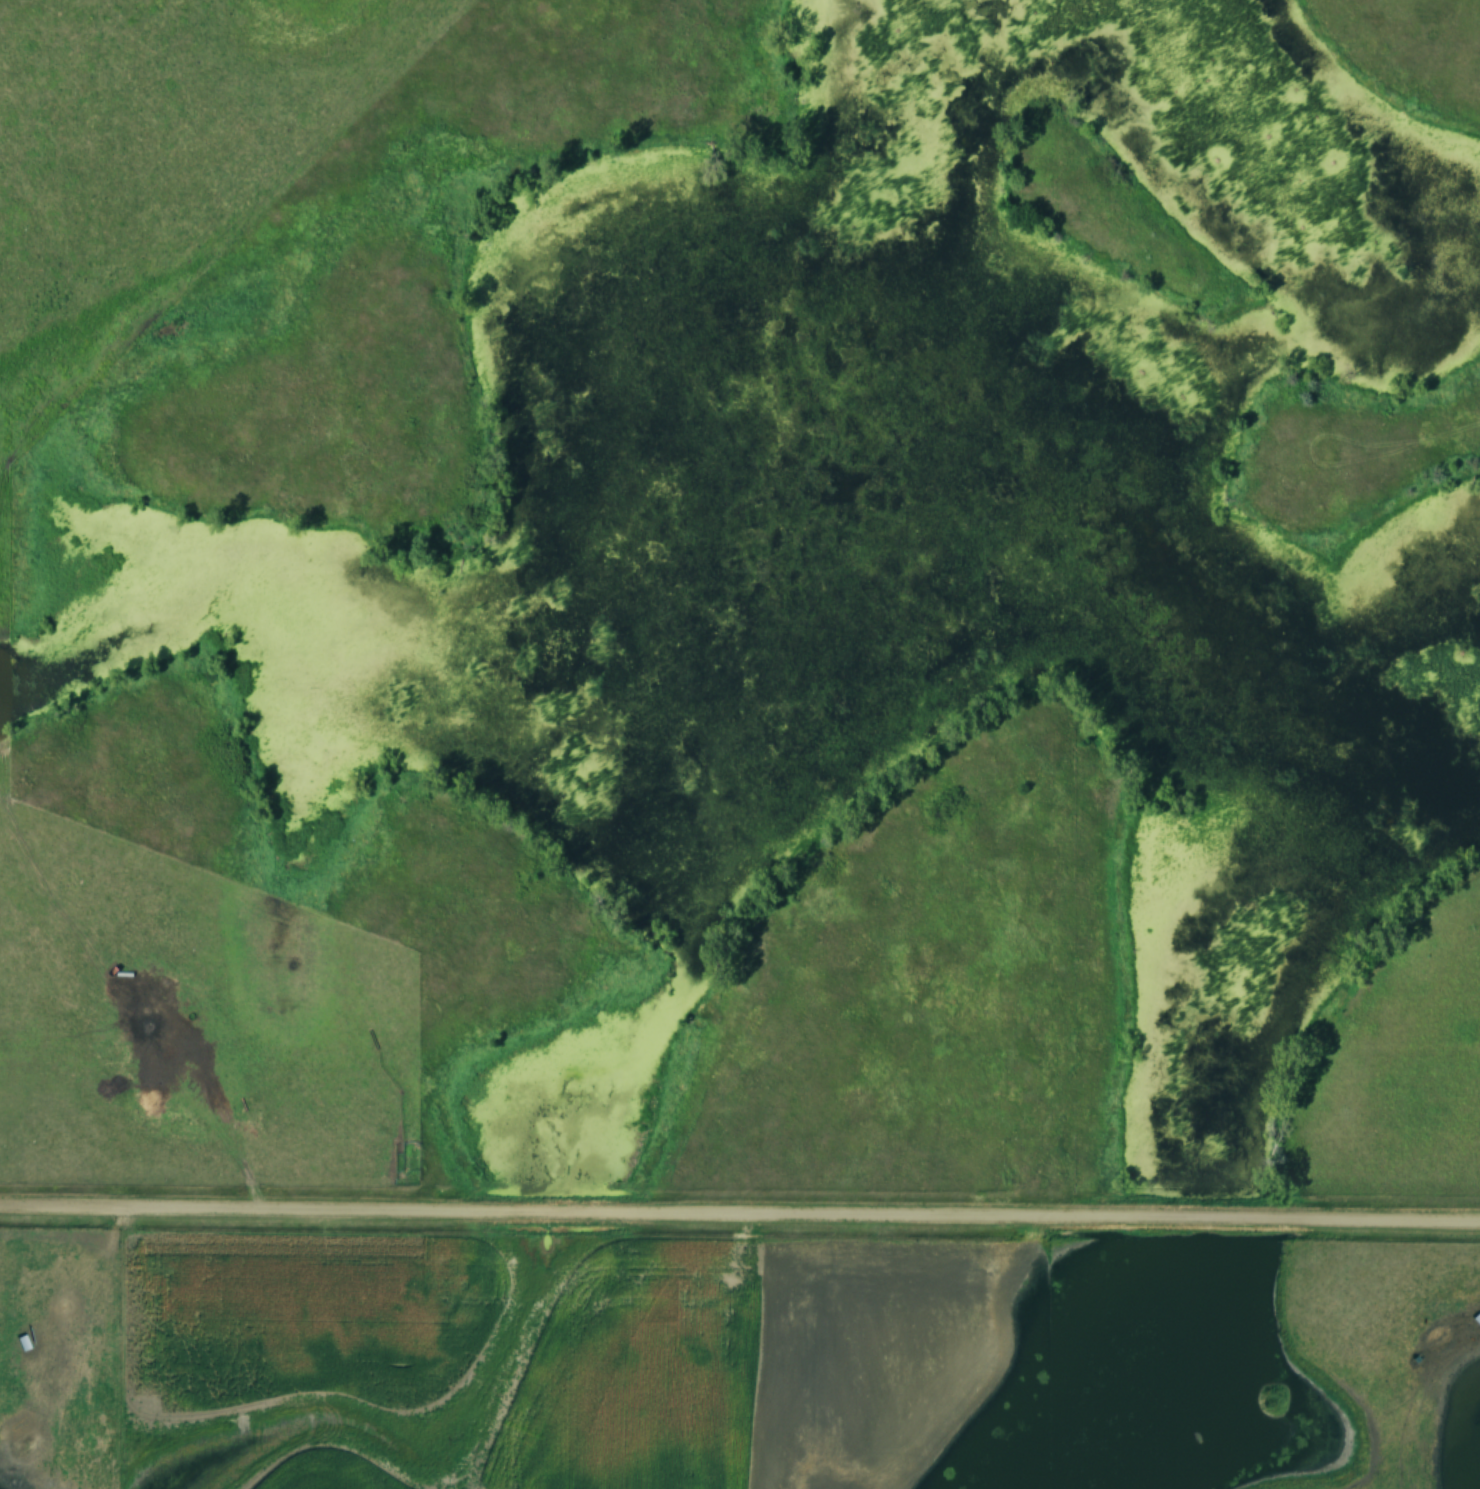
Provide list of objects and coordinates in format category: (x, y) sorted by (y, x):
road: (740, 1211)

